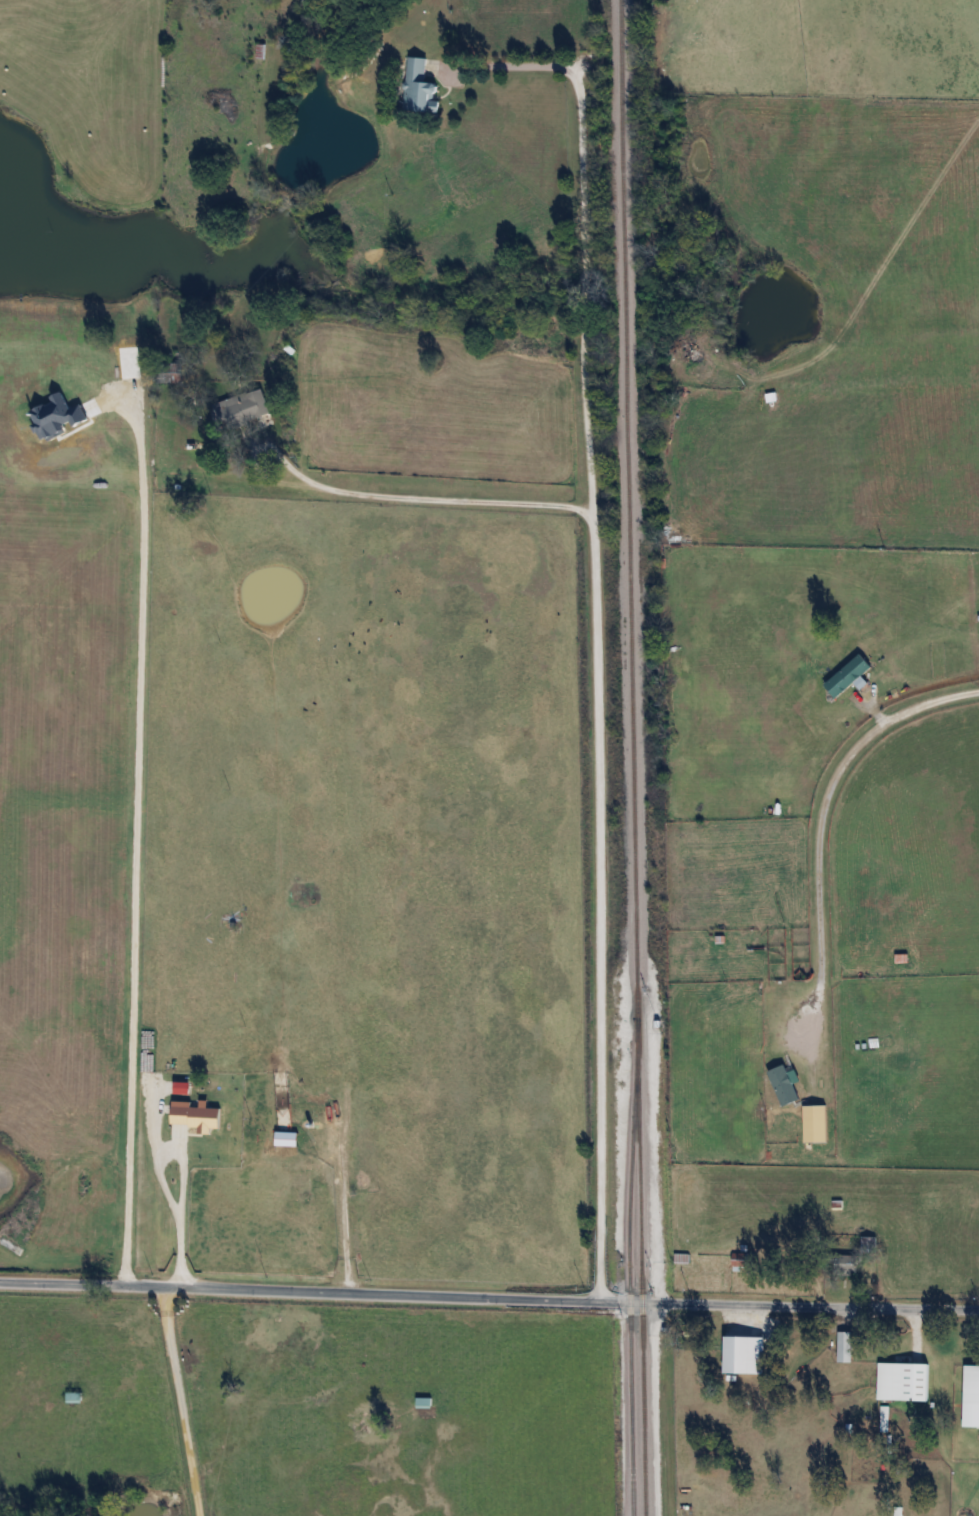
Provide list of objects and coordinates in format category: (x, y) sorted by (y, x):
building: (420, 87)
road: (584, 227)
building: (240, 408)
building: (848, 676)
road: (597, 741)
railway: (632, 757)
road: (824, 824)
road: (139, 833)
building: (784, 1085)
building: (175, 1091)
building: (193, 1118)
building: (815, 1124)
building: (310, 1141)
road: (185, 1178)
building: (868, 1244)
building: (742, 1261)
building: (846, 1265)
road: (489, 1297)
building: (845, 1345)
building: (739, 1354)
building: (902, 1381)
building: (74, 1396)
building: (970, 1397)
road: (183, 1400)
building: (424, 1402)
building: (884, 1418)

